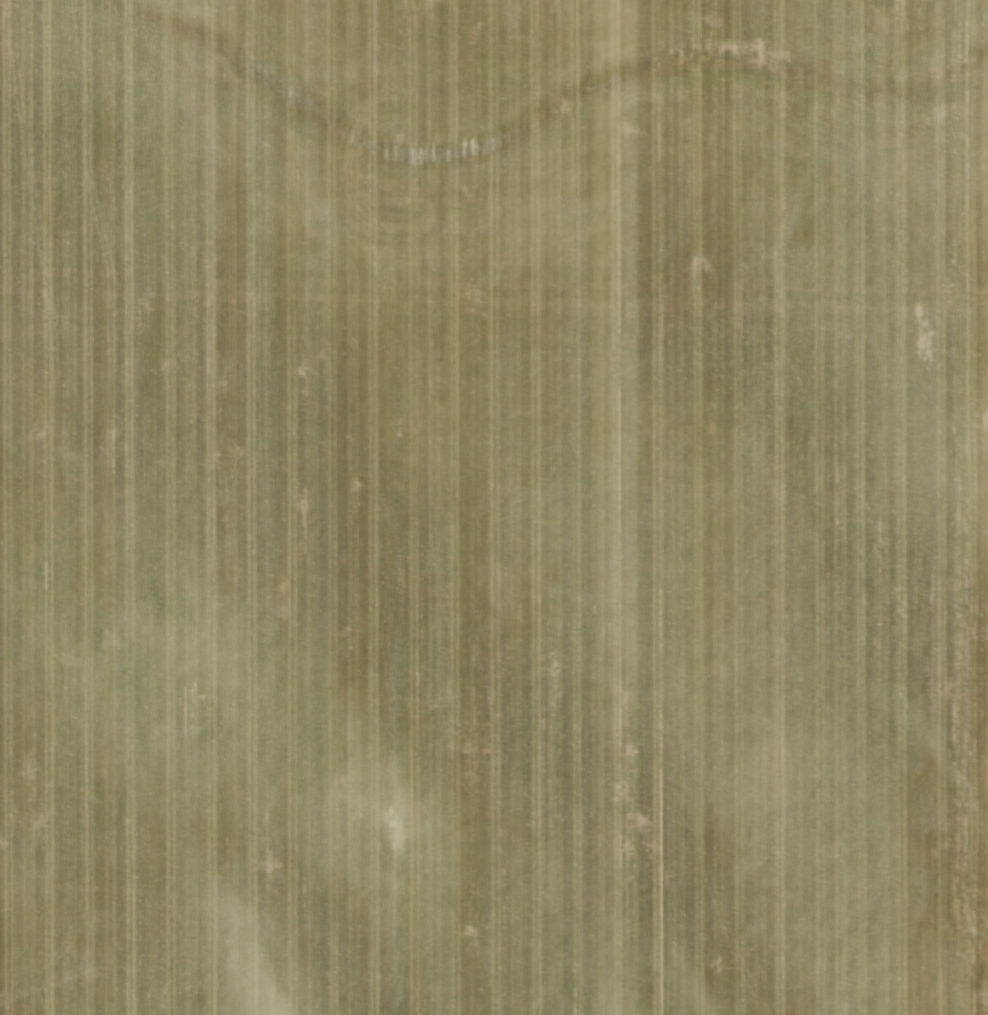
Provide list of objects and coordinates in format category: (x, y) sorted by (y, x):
crop: (494, 507)

